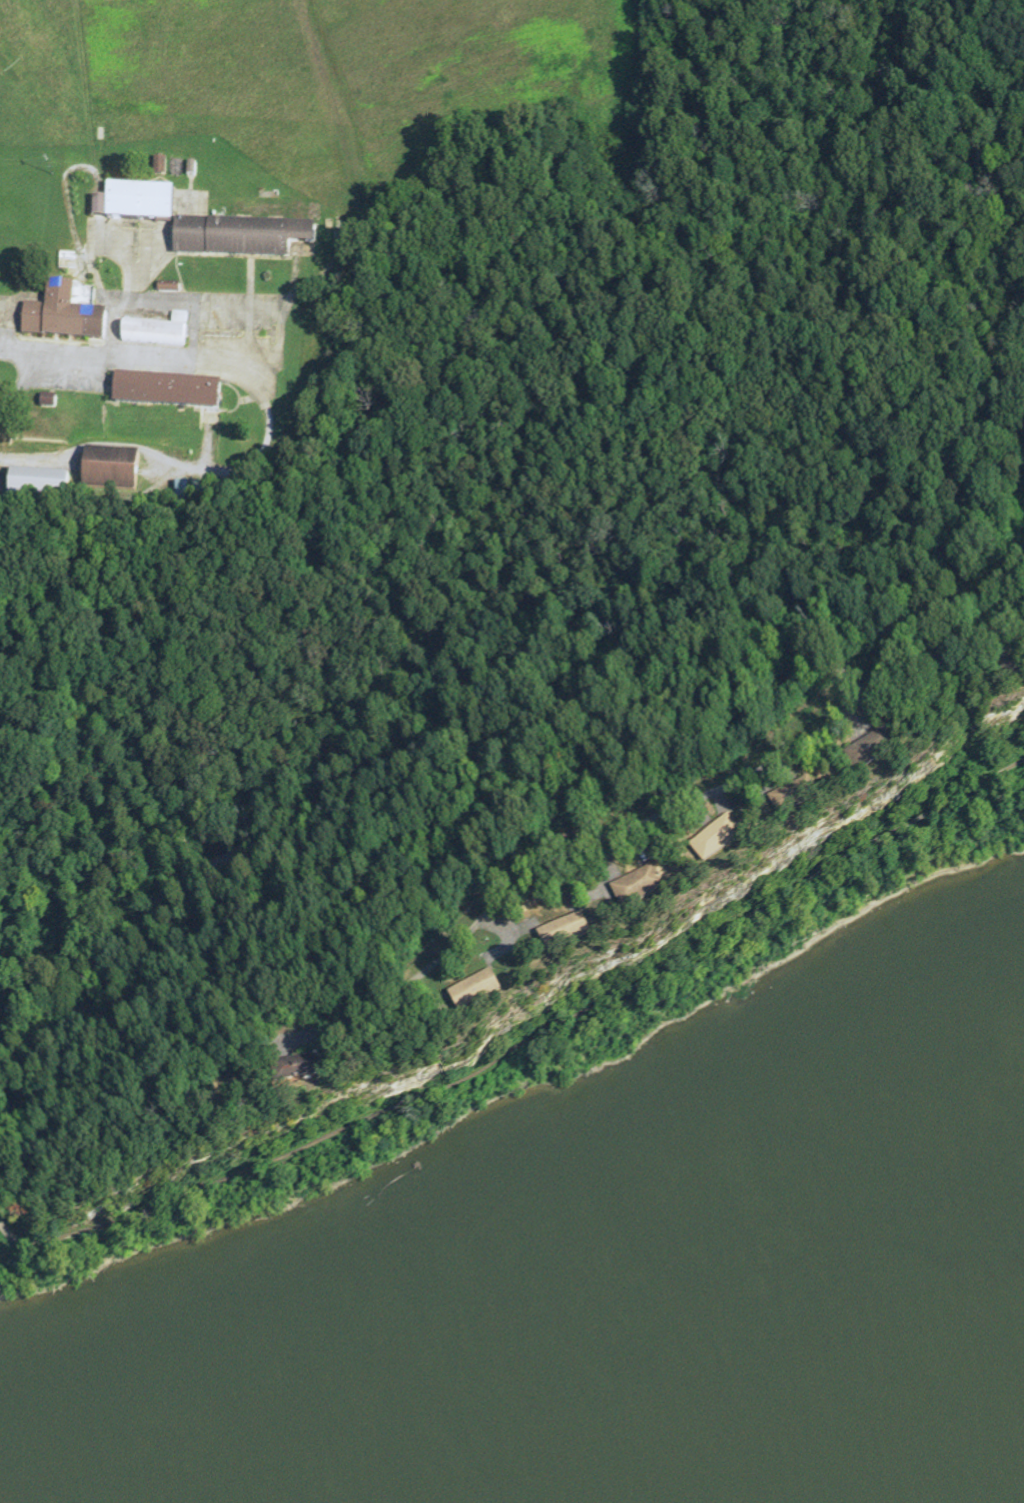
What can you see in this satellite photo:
road: (71, 173)
building: (142, 202)
building: (101, 207)
building: (243, 237)
road: (95, 274)
road: (129, 289)
road: (206, 302)
building: (73, 314)
building: (35, 319)
building: (160, 332)
road: (248, 340)
road: (23, 385)
building: (169, 391)
road: (238, 407)
road: (269, 426)
road: (208, 442)
building: (113, 469)
building: (40, 486)
building: (207, 493)
building: (183, 494)
building: (883, 755)
building: (806, 799)
road: (310, 821)
road: (643, 823)
building: (729, 843)
building: (649, 889)
building: (577, 936)
building: (487, 996)
building: (306, 1077)

